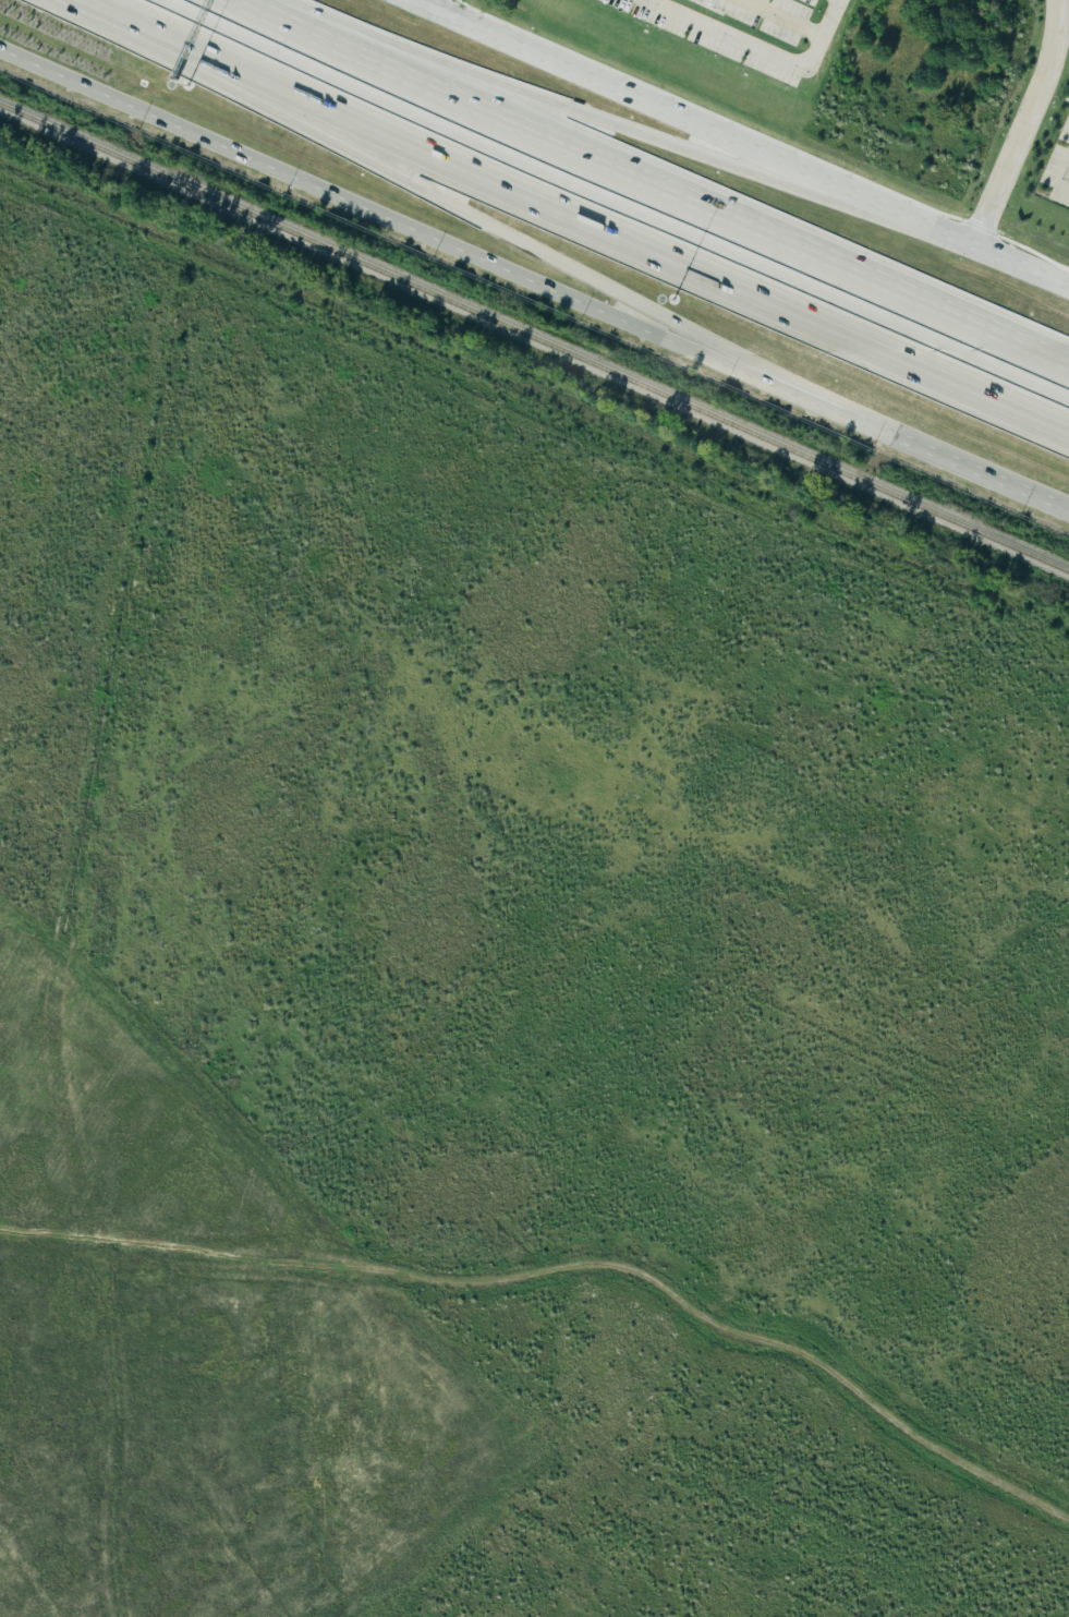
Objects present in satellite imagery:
road: (418, 1)
road: (143, 10)
road: (270, 10)
road: (783, 19)
road: (1062, 29)
road: (767, 48)
road: (664, 110)
road: (604, 120)
road: (1020, 124)
road: (1065, 176)
road: (681, 191)
road: (360, 195)
road: (436, 195)
road: (617, 221)
road: (943, 233)
road: (1020, 267)
railway: (534, 339)
road: (894, 429)
road: (569, 1272)
railway: (534, 1505)

